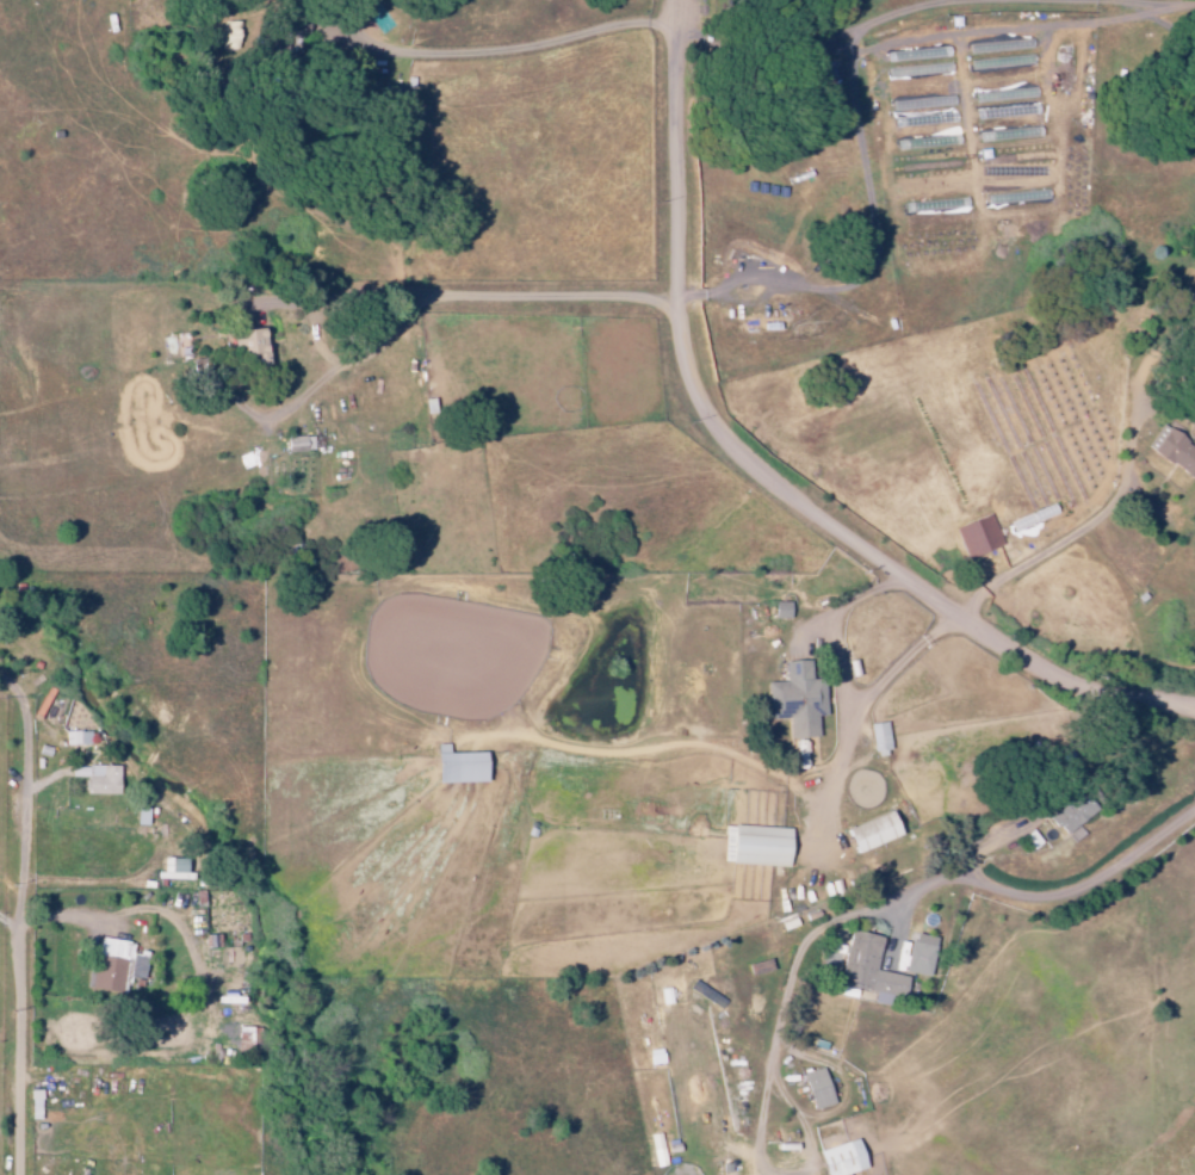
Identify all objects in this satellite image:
building: (246, 346)
building: (297, 444)
building: (1174, 451)
road: (767, 478)
building: (977, 536)
building: (779, 610)
building: (794, 699)
building: (76, 738)
building: (878, 738)
building: (454, 765)
building: (95, 779)
building: (1069, 814)
building: (868, 831)
building: (753, 846)
building: (173, 870)
road: (24, 921)
building: (917, 954)
building: (113, 965)
building: (866, 967)
building: (816, 1088)
building: (32, 1105)
building: (837, 1152)

